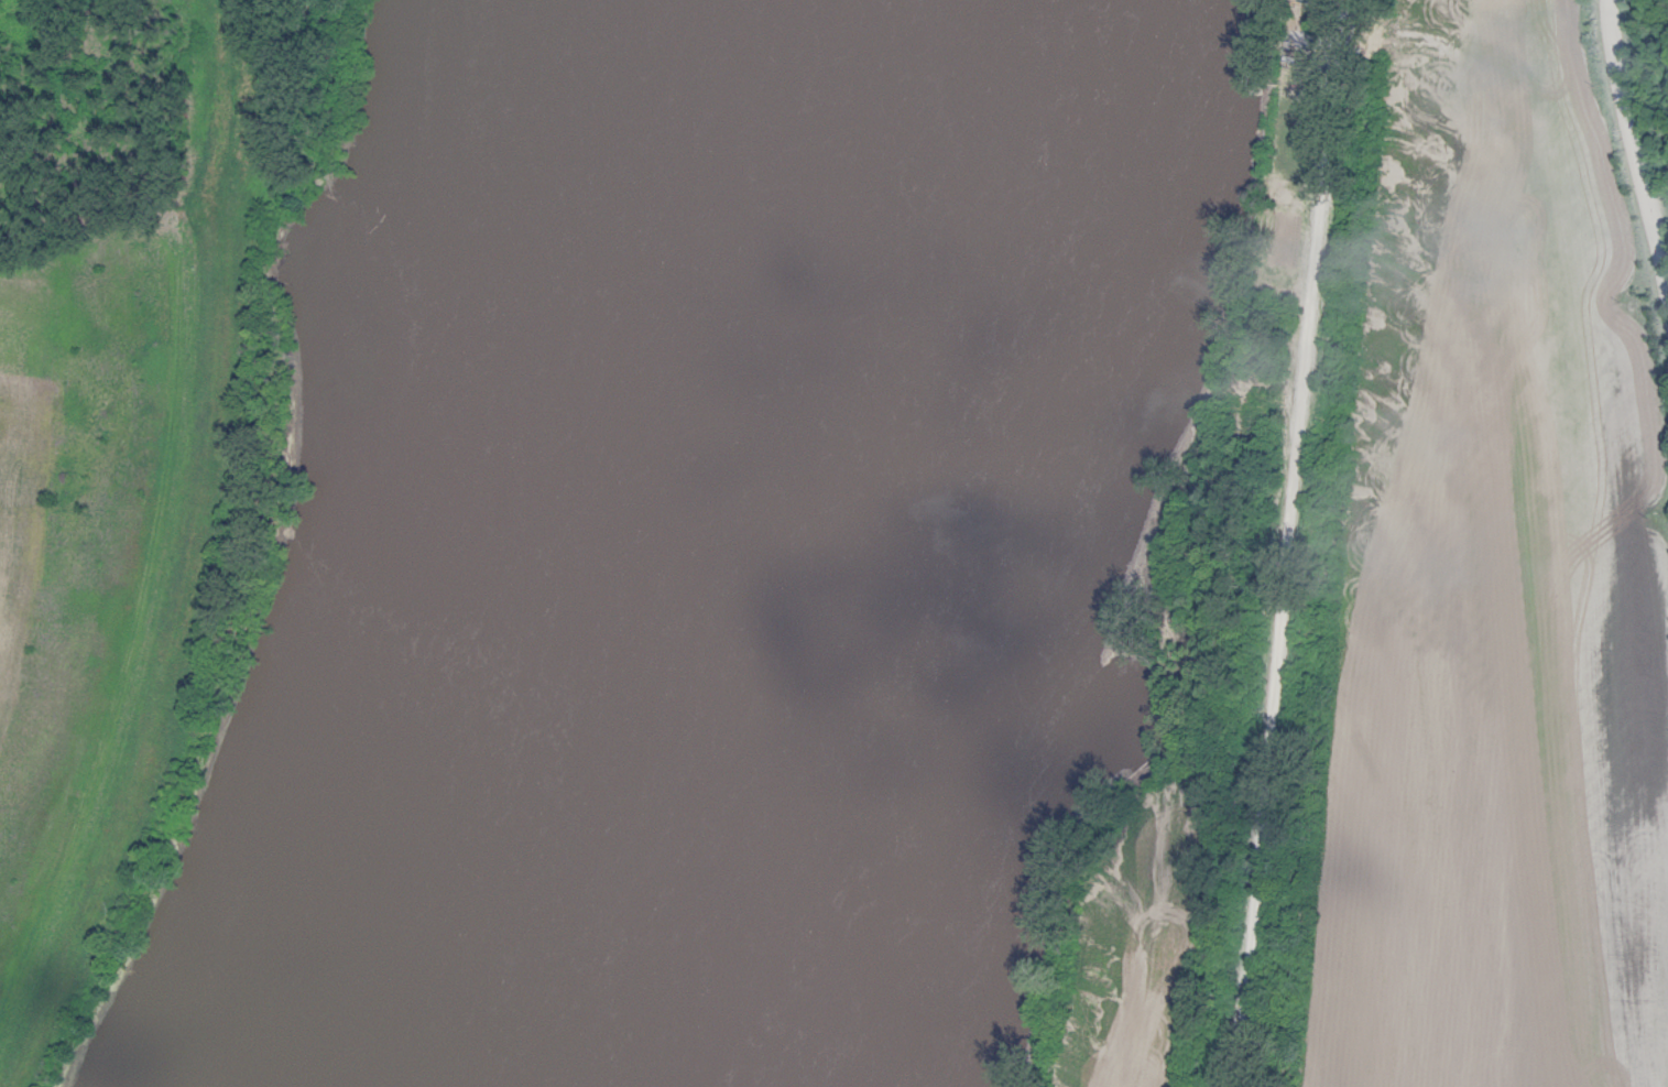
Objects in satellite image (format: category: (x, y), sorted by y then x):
road: (1633, 208)
road: (37, 240)
road: (1285, 543)
river: (651, 545)

